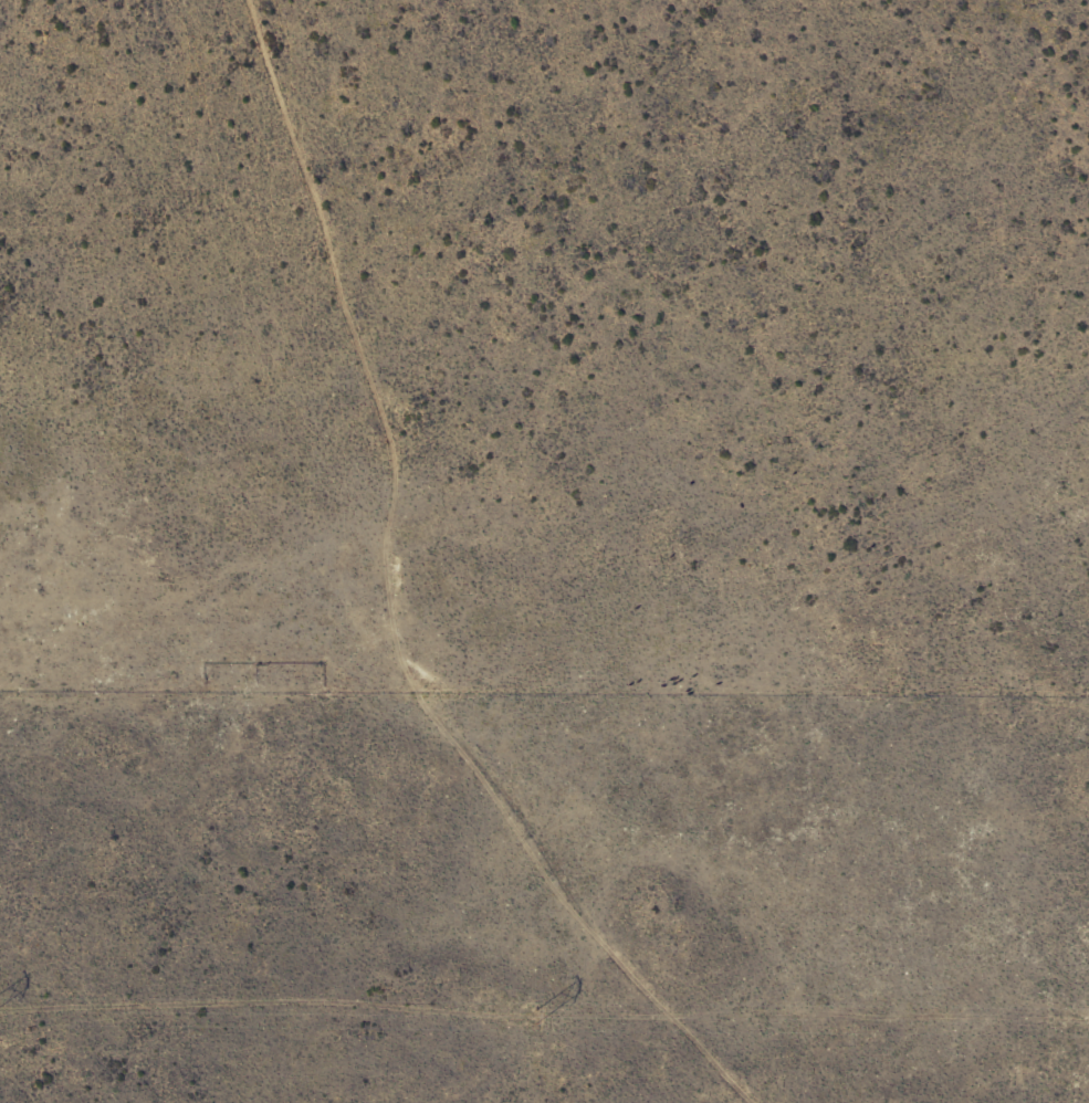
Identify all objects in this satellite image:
power tower: (535, 1020)

